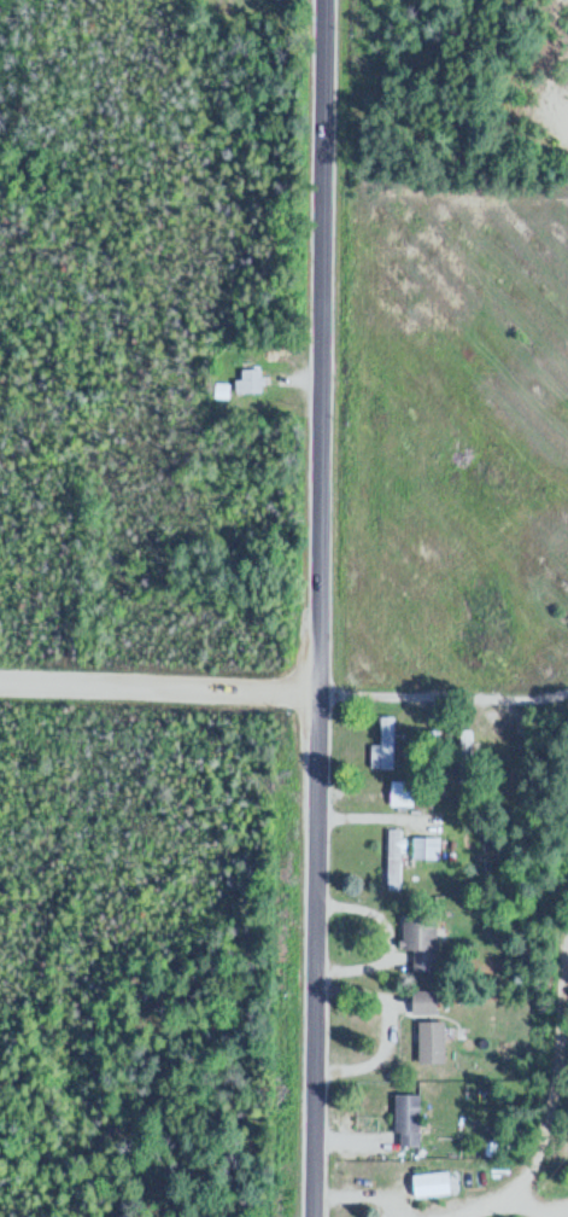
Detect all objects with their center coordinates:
building: (252, 380)
road: (315, 607)
road: (157, 685)
road: (441, 699)
building: (380, 746)
building: (428, 753)
building: (459, 756)
building: (397, 794)
building: (421, 848)
building: (387, 863)
building: (416, 941)
building: (418, 1002)
building: (426, 1043)
road: (552, 1095)
building: (402, 1122)
building: (423, 1186)

